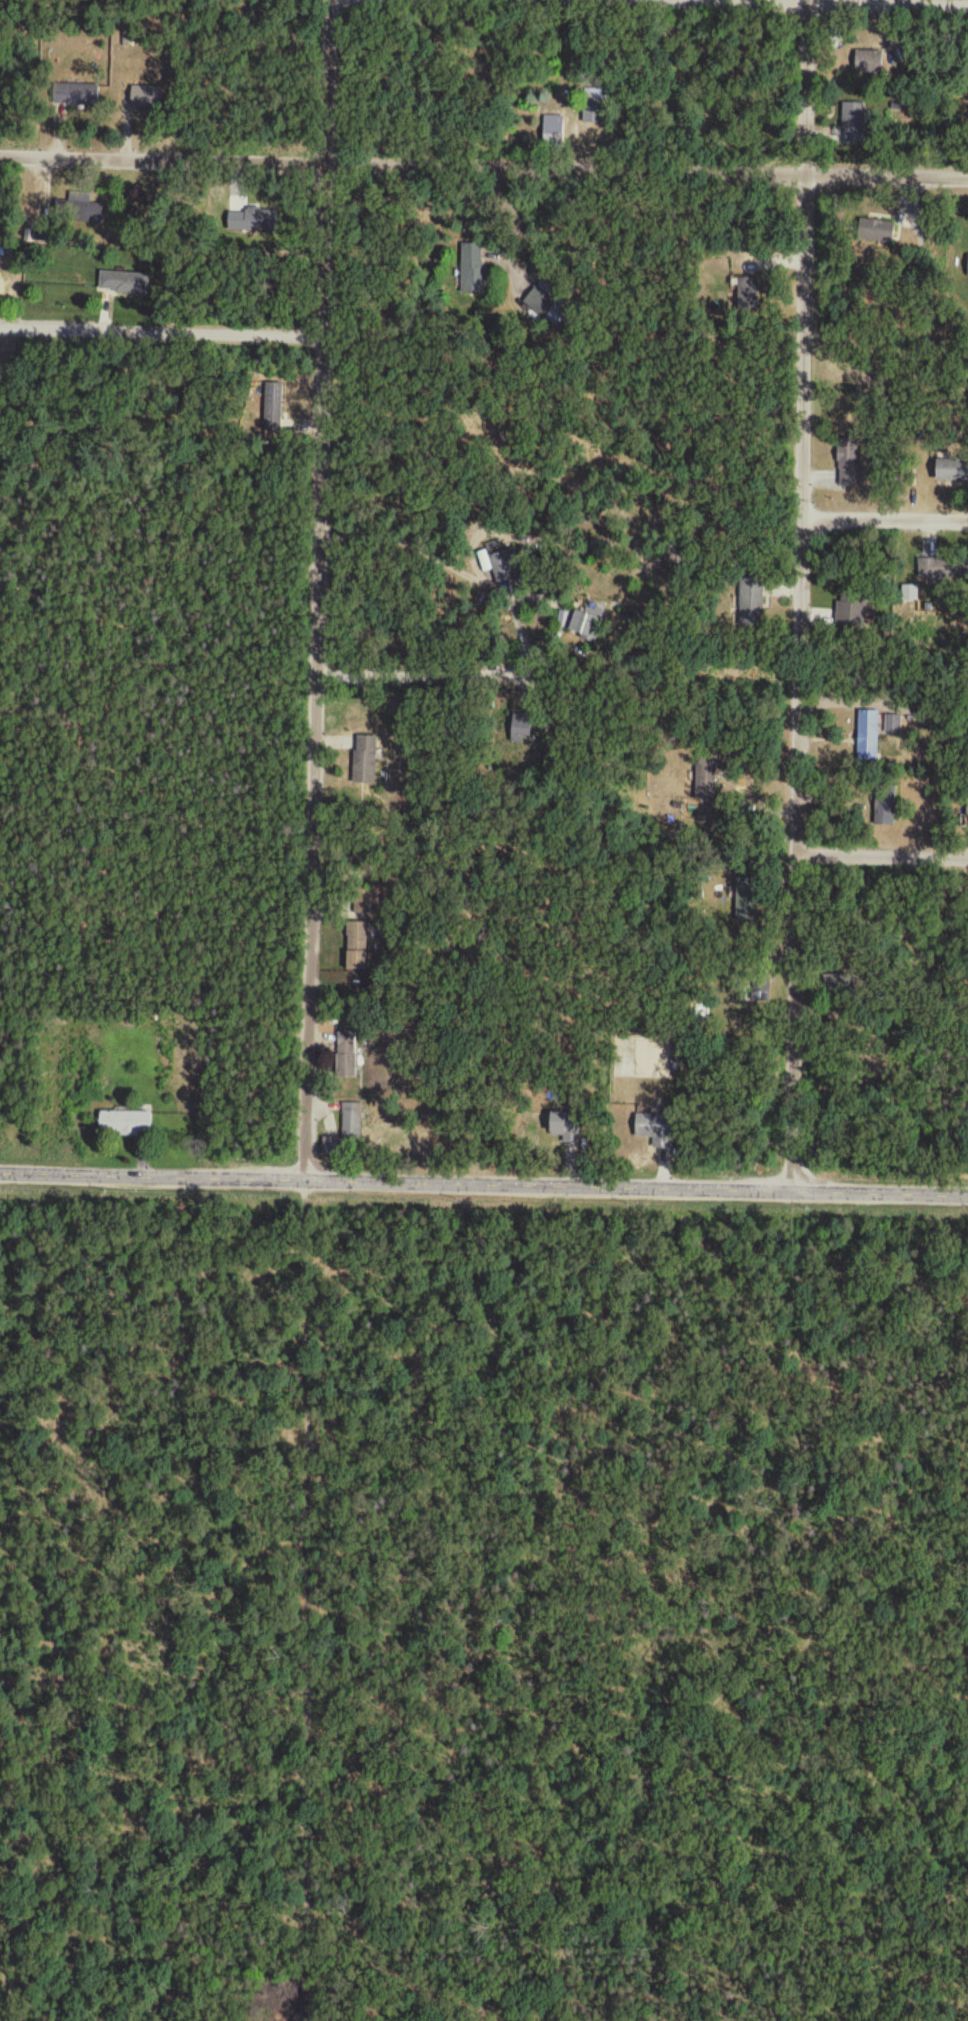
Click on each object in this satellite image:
road: (826, 4)
building: (869, 62)
building: (75, 94)
building: (146, 97)
building: (593, 106)
building: (855, 120)
building: (554, 131)
road: (401, 164)
road: (885, 172)
building: (76, 208)
building: (876, 231)
building: (473, 269)
building: (124, 282)
road: (161, 334)
building: (274, 408)
building: (848, 464)
building: (952, 471)
road: (885, 522)
building: (503, 562)
building: (943, 569)
road: (801, 591)
building: (751, 603)
building: (850, 611)
building: (585, 624)
road: (417, 665)
road: (312, 704)
building: (522, 729)
building: (868, 740)
building: (365, 761)
building: (705, 777)
building: (885, 805)
building: (967, 811)
road: (881, 858)
building: (357, 948)
building: (761, 992)
building: (640, 1058)
building: (346, 1061)
building: (125, 1125)
building: (565, 1125)
building: (655, 1131)
building: (352, 1134)
road: (484, 1182)

